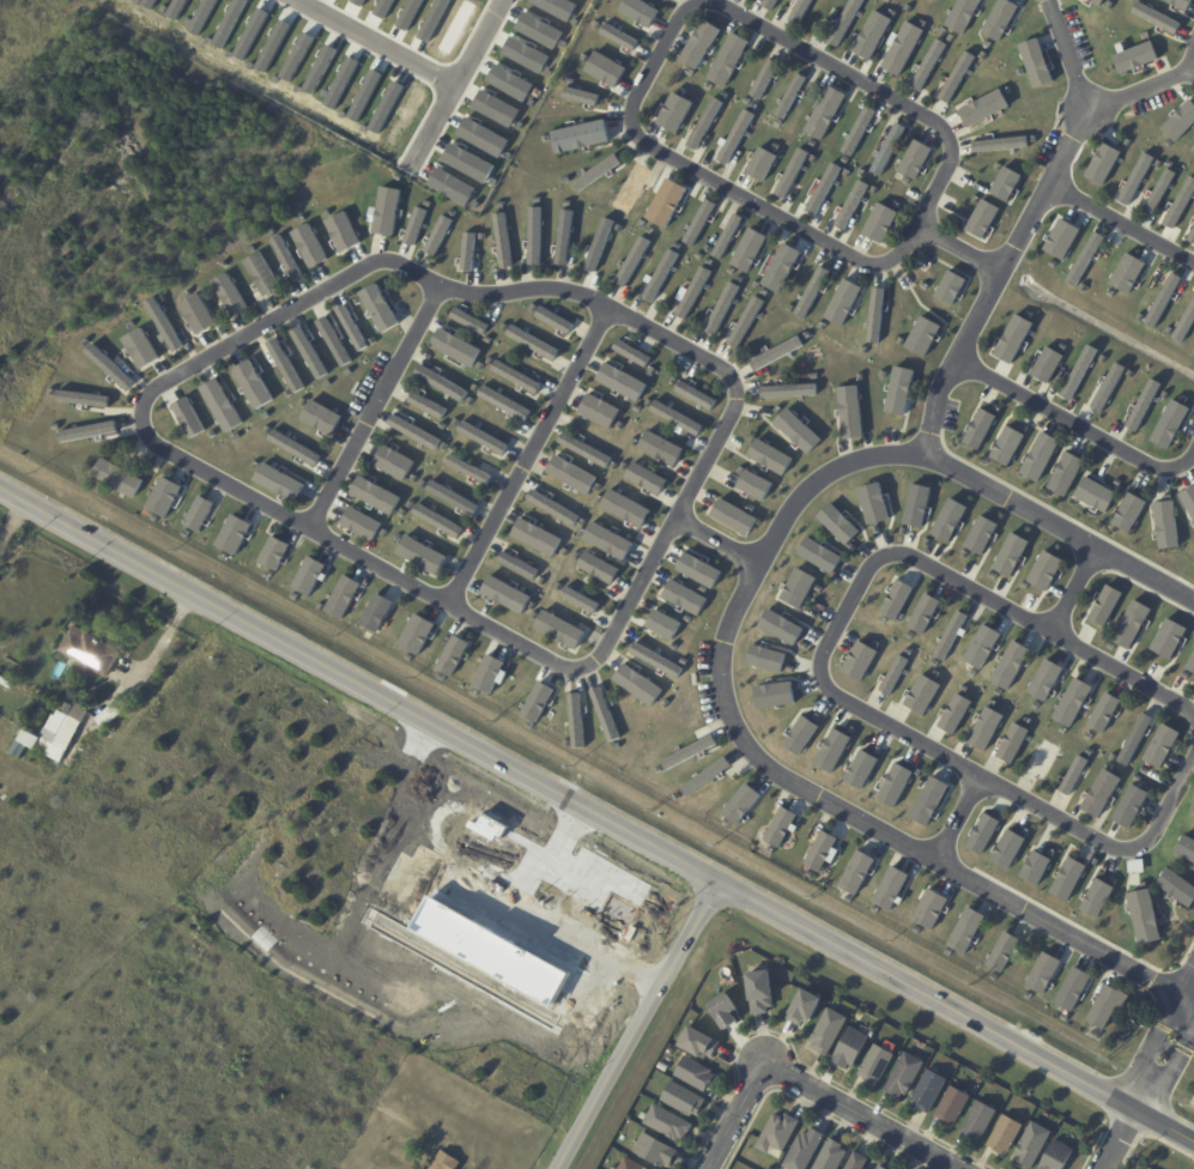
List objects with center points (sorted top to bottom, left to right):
building: (1096, 1)
building: (1180, 4)
building: (800, 11)
building: (640, 12)
building: (962, 16)
building: (1154, 18)
building: (999, 19)
building: (844, 23)
building: (872, 35)
building: (618, 37)
road: (384, 40)
building: (698, 44)
road: (668, 46)
building: (901, 49)
building: (1079, 49)
building: (1134, 57)
building: (727, 60)
building: (1035, 63)
building: (927, 65)
building: (605, 69)
building: (956, 77)
building: (763, 79)
road: (461, 85)
road: (1143, 95)
building: (580, 96)
building: (789, 96)
building: (983, 108)
building: (674, 113)
building: (824, 113)
building: (1180, 121)
building: (703, 123)
building: (857, 131)
building: (578, 137)
building: (734, 137)
building: (1000, 144)
building: (887, 149)
building: (914, 159)
building: (1102, 163)
building: (760, 164)
building: (595, 172)
building: (790, 172)
building: (1135, 178)
building: (1005, 183)
building: (630, 188)
building: (1158, 192)
building: (665, 202)
building: (1180, 202)
building: (850, 205)
building: (386, 211)
building: (982, 219)
building: (698, 223)
building: (879, 223)
road: (1122, 224)
building: (414, 226)
road: (1028, 229)
building: (343, 232)
building: (437, 235)
building: (534, 235)
building: (727, 235)
building: (1190, 236)
building: (563, 237)
building: (1061, 238)
building: (502, 241)
building: (309, 246)
building: (598, 246)
building: (747, 250)
building: (467, 252)
road: (964, 253)
building: (286, 258)
building: (631, 261)
building: (780, 267)
building: (1127, 272)
building: (261, 274)
building: (660, 275)
building: (950, 287)
building: (811, 292)
building: (690, 293)
building: (229, 295)
building: (842, 302)
building: (378, 308)
building: (721, 308)
building: (198, 314)
building: (874, 315)
building: (553, 320)
building: (468, 321)
building: (745, 322)
building: (1184, 322)
building: (163, 325)
building: (351, 328)
building: (922, 337)
building: (1012, 339)
building: (333, 341)
building: (532, 343)
building: (455, 347)
building: (140, 349)
building: (631, 352)
building: (309, 353)
building: (775, 353)
building: (1047, 364)
building: (284, 365)
building: (109, 367)
building: (1078, 372)
building: (515, 377)
building: (620, 382)
building: (253, 384)
building: (1107, 387)
building: (788, 390)
building: (898, 390)
building: (696, 395)
building: (84, 399)
building: (503, 402)
building: (220, 405)
building: (426, 405)
building: (1143, 405)
road: (374, 407)
building: (598, 411)
building: (849, 412)
building: (321, 417)
building: (187, 418)
building: (675, 418)
building: (1169, 424)
road: (1077, 428)
building: (978, 429)
building: (90, 431)
building: (796, 431)
building: (413, 432)
building: (481, 437)
building: (1006, 446)
building: (293, 448)
building: (660, 448)
building: (583, 450)
building: (769, 456)
building: (1038, 456)
road: (531, 458)
building: (393, 462)
building: (1065, 473)
building: (570, 474)
building: (116, 477)
building: (646, 478)
building: (278, 481)
building: (753, 485)
building: (375, 495)
building: (1095, 495)
building: (163, 497)
building: (451, 497)
building: (1189, 501)
building: (873, 503)
building: (916, 505)
building: (552, 508)
building: (624, 508)
building: (1128, 513)
building: (198, 514)
building: (732, 516)
building: (948, 520)
building: (437, 521)
building: (360, 523)
building: (837, 523)
building: (1165, 525)
building: (232, 534)
building: (980, 535)
building: (535, 537)
road: (326, 539)
building: (607, 540)
road: (720, 541)
building: (273, 553)
building: (422, 555)
building: (1010, 555)
building: (819, 556)
building: (517, 565)
building: (598, 568)
building: (697, 570)
building: (1044, 570)
building: (308, 575)
building: (798, 588)
building: (505, 594)
road: (1079, 594)
building: (341, 596)
building: (683, 596)
building: (580, 600)
building: (896, 600)
building: (1104, 605)
building: (375, 613)
building: (923, 613)
building: (662, 624)
building: (1131, 624)
building: (780, 626)
building: (562, 632)
building: (416, 634)
building: (950, 635)
building: (1168, 638)
road: (165, 643)
road: (727, 646)
building: (981, 647)
building: (91, 653)
building: (451, 655)
building: (765, 658)
building: (655, 660)
building: (860, 662)
building: (1190, 664)
building: (1010, 665)
road: (824, 671)
building: (489, 673)
building: (893, 674)
building: (1048, 680)
building: (637, 685)
building: (774, 696)
building: (927, 696)
building: (84, 701)
building: (537, 702)
building: (1072, 702)
building: (115, 711)
building: (1103, 713)
building: (604, 714)
building: (953, 714)
building: (65, 721)
building: (575, 721)
building: (984, 728)
building: (38, 731)
building: (68, 734)
building: (800, 735)
building: (1134, 738)
building: (1011, 743)
building: (1160, 746)
building: (43, 747)
building: (832, 750)
building: (687, 752)
building: (1043, 759)
building: (26, 764)
building: (860, 769)
building: (1072, 776)
building: (704, 777)
building: (893, 786)
building: (1099, 793)
building: (928, 801)
building: (740, 804)
building: (1129, 807)
building: (1193, 813)
road: (594, 818)
building: (780, 826)
road: (959, 828)
building: (983, 834)
building: (1007, 848)
building: (822, 852)
building: (1190, 862)
building: (1035, 867)
building: (855, 872)
building: (1067, 879)
building: (890, 888)
building: (1180, 890)
building: (1096, 897)
building: (932, 910)
road: (541, 920)
building: (1146, 920)
building: (965, 931)
building: (1002, 951)
building: (1044, 975)
building: (1072, 988)
building: (763, 992)
building: (808, 1007)
building: (1110, 1007)
road: (1184, 1010)
building: (727, 1012)
road: (638, 1028)
building: (830, 1031)
road: (1156, 1037)
building: (701, 1044)
building: (853, 1048)
building: (878, 1065)
building: (697, 1074)
building: (905, 1076)
road: (1169, 1077)
building: (931, 1091)
building: (685, 1100)
building: (954, 1107)
road: (737, 1119)
road: (857, 1119)
building: (981, 1120)
building: (669, 1123)
building: (782, 1133)
building: (1007, 1135)
road: (1117, 1140)
building: (1034, 1146)
building: (806, 1150)
building: (656, 1151)
building: (834, 1156)
building: (1059, 1156)
building: (447, 1162)
building: (859, 1162)
building: (632, 1164)
building: (883, 1168)

